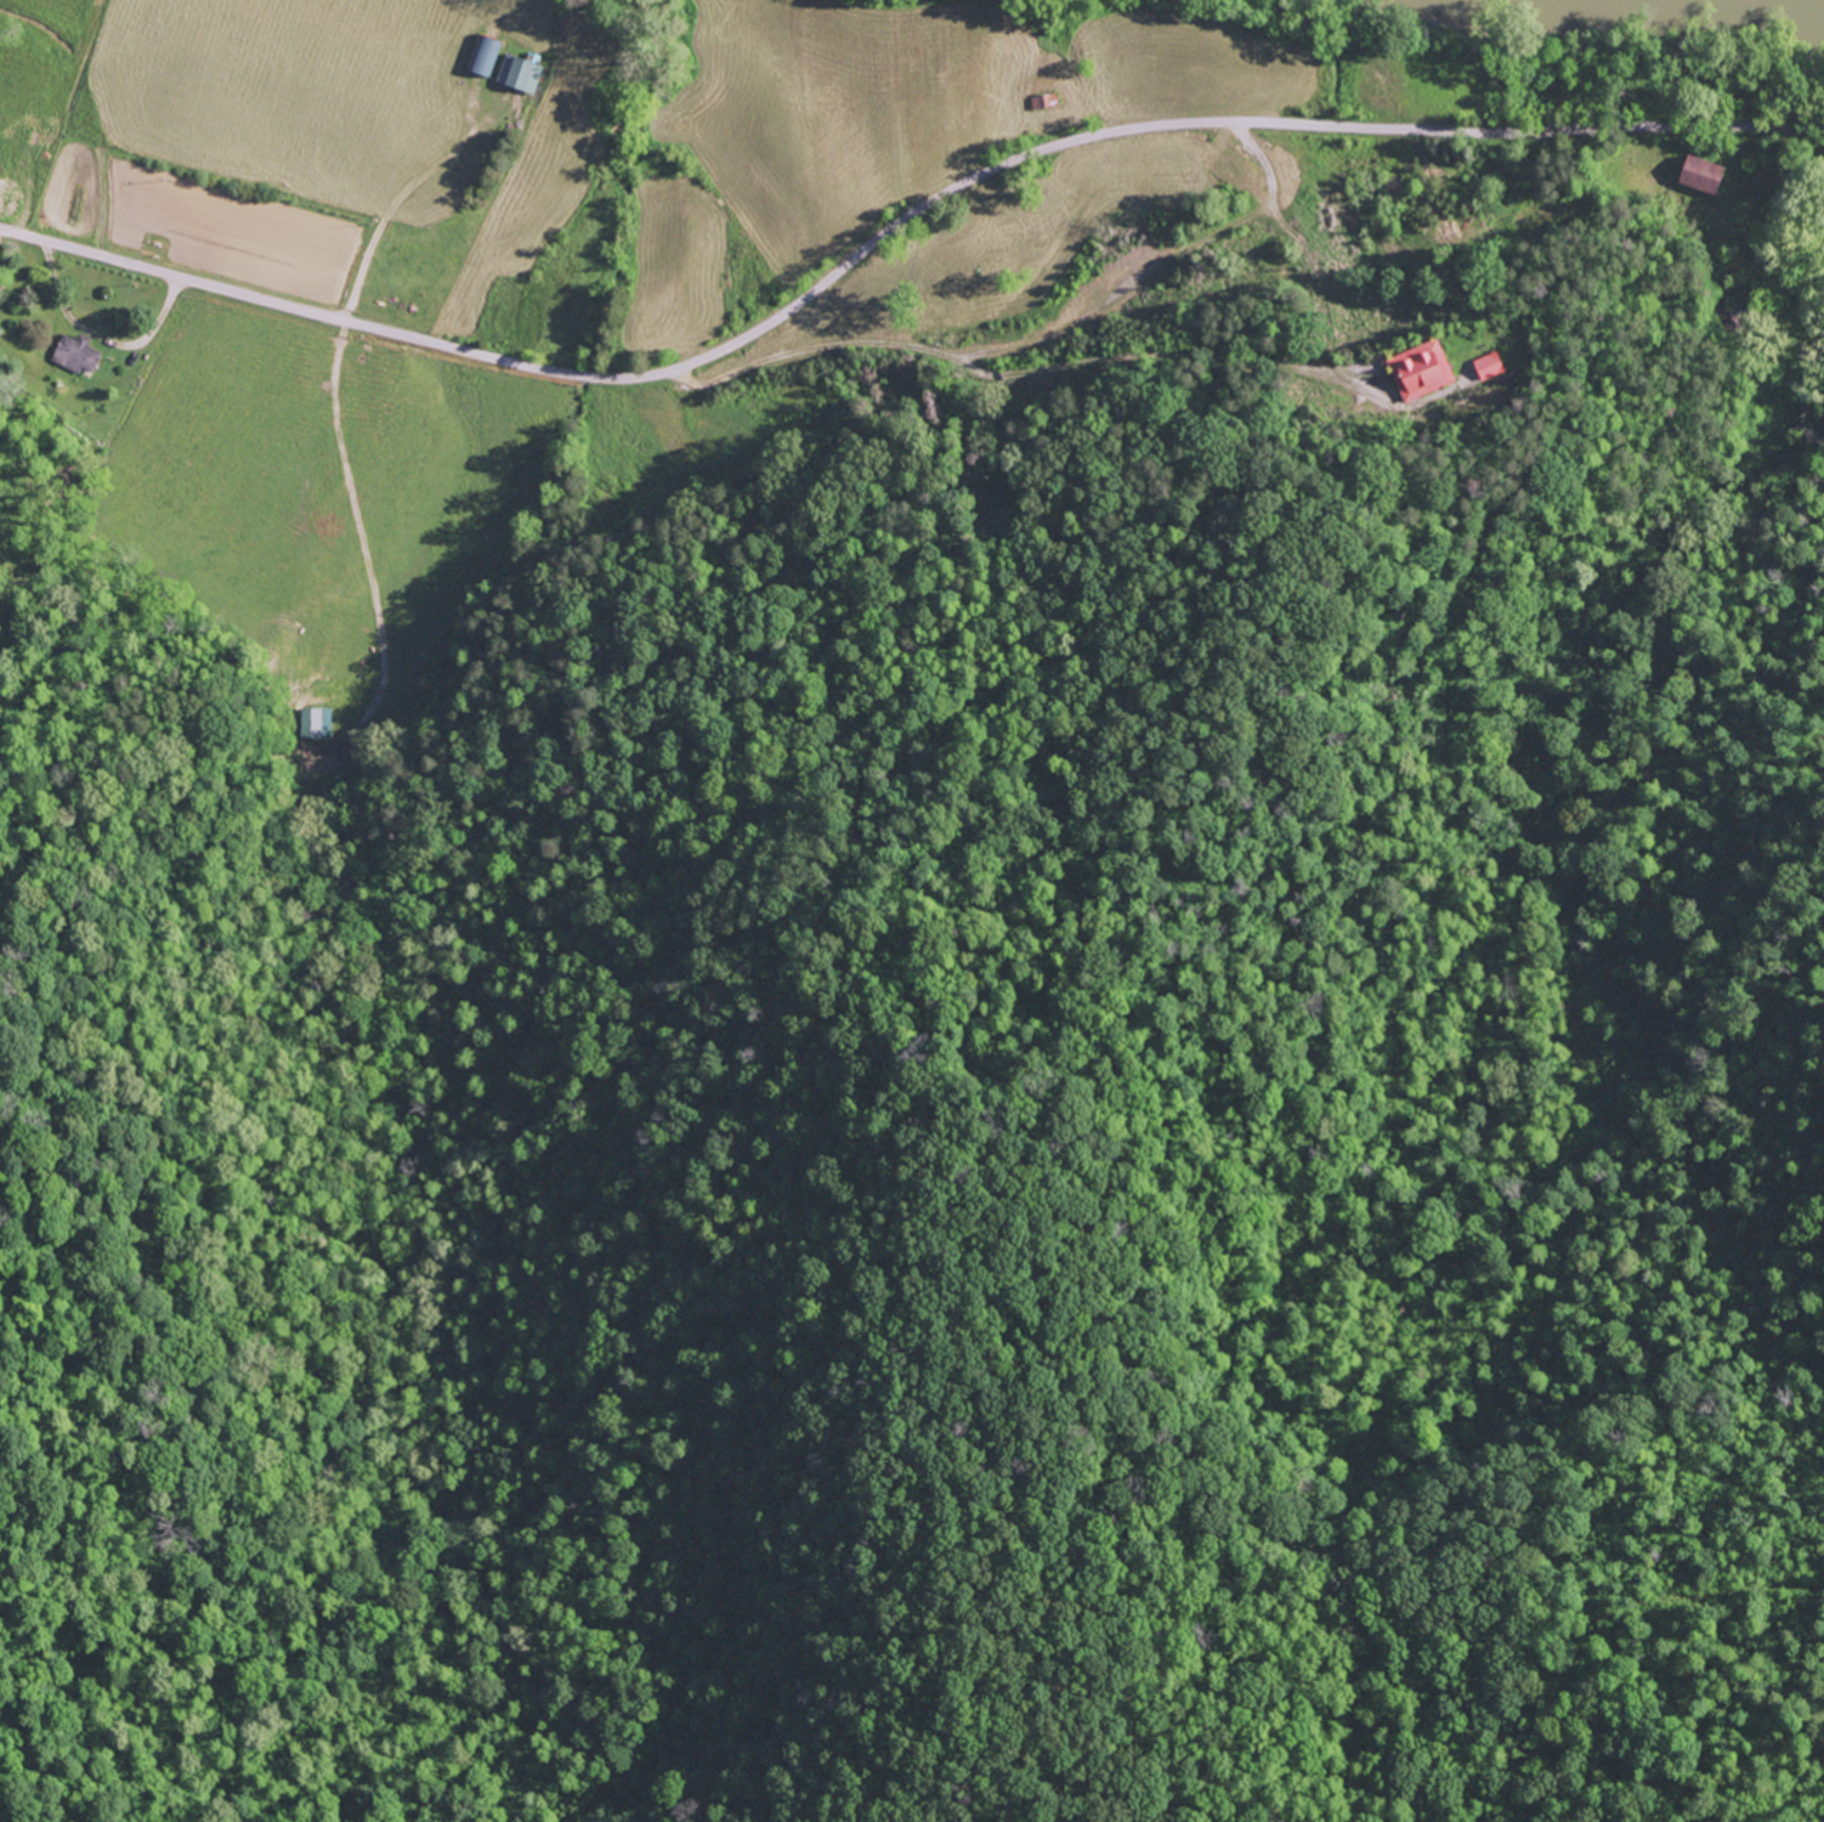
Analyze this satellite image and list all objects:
building: (525, 74)
road: (1645, 130)
building: (1710, 176)
road: (749, 334)
building: (83, 353)
building: (1495, 367)
building: (1428, 372)

